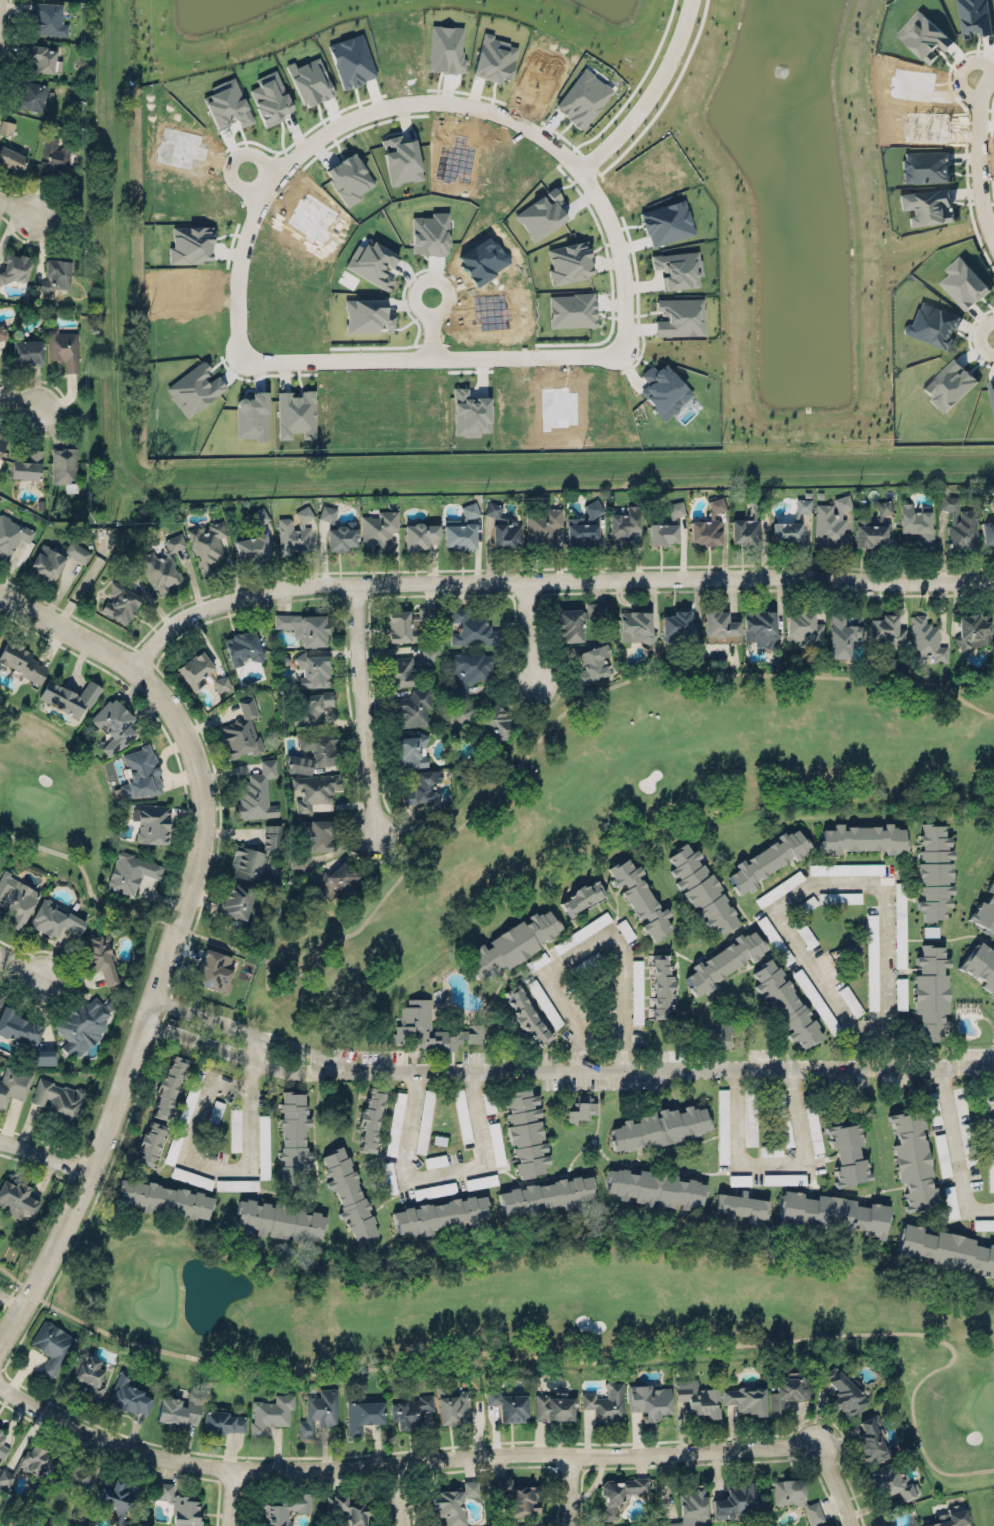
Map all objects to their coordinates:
building: (47, 18)
building: (445, 48)
building: (493, 57)
building: (42, 59)
building: (351, 60)
road: (649, 94)
building: (31, 96)
building: (582, 98)
road: (427, 103)
building: (227, 104)
building: (6, 127)
building: (54, 156)
building: (11, 157)
road: (977, 157)
building: (401, 159)
building: (348, 178)
road: (17, 207)
building: (541, 214)
building: (666, 222)
building: (430, 232)
building: (190, 244)
building: (372, 262)
building: (569, 262)
building: (13, 267)
building: (678, 269)
building: (57, 273)
building: (571, 310)
building: (366, 315)
building: (680, 317)
road: (431, 327)
building: (1, 330)
building: (62, 348)
building: (26, 351)
road: (431, 358)
building: (194, 388)
building: (663, 390)
road: (21, 399)
building: (469, 411)
building: (295, 414)
building: (251, 416)
building: (2, 438)
building: (26, 464)
building: (62, 464)
building: (993, 502)
building: (469, 510)
building: (327, 513)
building: (258, 516)
building: (749, 523)
building: (790, 523)
building: (831, 523)
building: (916, 523)
building: (959, 523)
building: (666, 525)
building: (707, 525)
building: (502, 526)
building: (583, 526)
building: (622, 526)
building: (543, 527)
building: (872, 527)
building: (379, 529)
building: (987, 532)
building: (295, 533)
building: (420, 534)
building: (12, 535)
building: (460, 535)
building: (340, 538)
building: (174, 542)
building: (207, 545)
building: (252, 547)
building: (77, 552)
building: (45, 562)
building: (160, 570)
road: (549, 579)
building: (119, 602)
building: (575, 620)
building: (719, 623)
building: (408, 624)
building: (635, 626)
building: (304, 627)
building: (678, 627)
building: (759, 627)
building: (471, 628)
building: (803, 628)
building: (973, 630)
road: (528, 631)
building: (886, 631)
building: (841, 636)
building: (925, 641)
building: (243, 647)
building: (22, 662)
building: (593, 662)
building: (408, 666)
building: (312, 669)
building: (201, 671)
building: (468, 671)
road: (597, 692)
building: (69, 696)
building: (311, 707)
road: (362, 707)
building: (412, 708)
building: (485, 717)
building: (113, 724)
building: (242, 730)
building: (410, 750)
building: (313, 752)
building: (140, 773)
building: (421, 786)
building: (314, 789)
building: (256, 793)
park: (534, 810)
building: (150, 822)
building: (320, 835)
building: (863, 838)
building: (256, 856)
building: (767, 859)
building: (846, 869)
building: (130, 871)
building: (933, 871)
building: (341, 878)
road: (829, 883)
building: (700, 888)
building: (779, 888)
building: (581, 897)
building: (639, 897)
building: (839, 897)
building: (16, 900)
building: (236, 901)
building: (806, 904)
road: (122, 906)
building: (986, 909)
building: (54, 919)
building: (899, 924)
building: (625, 929)
building: (930, 931)
building: (581, 932)
building: (804, 932)
road: (174, 933)
building: (774, 940)
building: (513, 943)
road: (592, 944)
building: (99, 958)
building: (536, 961)
building: (723, 961)
building: (871, 961)
building: (849, 963)
road: (21, 965)
building: (980, 966)
building: (215, 968)
road: (288, 985)
building: (661, 987)
building: (1, 992)
building: (930, 992)
building: (900, 993)
building: (0, 997)
building: (850, 1000)
building: (816, 1001)
building: (544, 1003)
building: (785, 1003)
building: (526, 1013)
building: (81, 1025)
building: (431, 1027)
road: (253, 1032)
building: (720, 1033)
building: (24, 1035)
road: (247, 1058)
road: (253, 1062)
road: (674, 1068)
building: (13, 1084)
building: (58, 1100)
building: (583, 1108)
building: (933, 1108)
building: (159, 1109)
building: (462, 1115)
building: (183, 1118)
building: (751, 1118)
building: (370, 1119)
building: (783, 1120)
building: (395, 1123)
building: (722, 1126)
building: (659, 1127)
building: (813, 1127)
building: (235, 1129)
building: (525, 1129)
building: (292, 1137)
building: (496, 1143)
building: (263, 1146)
building: (770, 1150)
building: (847, 1151)
road: (955, 1151)
road: (45, 1154)
building: (942, 1154)
building: (990, 1158)
building: (913, 1160)
road: (201, 1161)
road: (771, 1163)
road: (438, 1172)
building: (191, 1177)
building: (389, 1177)
building: (784, 1178)
building: (481, 1181)
building: (236, 1184)
building: (653, 1188)
building: (434, 1190)
building: (348, 1194)
building: (546, 1195)
building: (16, 1198)
building: (164, 1198)
building: (949, 1202)
building: (740, 1206)
building: (834, 1213)
building: (440, 1214)
building: (279, 1220)
building: (983, 1224)
building: (944, 1247)
park: (535, 1312)
building: (51, 1345)
road: (569, 1359)
building: (86, 1369)
building: (788, 1392)
building: (844, 1393)
building: (696, 1397)
building: (129, 1398)
building: (745, 1399)
building: (649, 1401)
building: (605, 1403)
building: (508, 1405)
building: (553, 1408)
building: (454, 1409)
building: (177, 1411)
building: (410, 1411)
building: (318, 1412)
building: (269, 1414)
building: (363, 1414)
building: (222, 1422)
building: (0, 1431)
building: (872, 1441)
building: (3, 1446)
road: (403, 1462)
building: (29, 1465)
building: (70, 1477)
road: (843, 1483)
building: (893, 1486)
road: (574, 1490)
building: (618, 1492)
building: (117, 1493)
road: (404, 1494)
road: (234, 1496)
building: (515, 1497)
building: (795, 1497)
building: (735, 1500)
building: (453, 1502)
building: (693, 1504)
building: (180, 1505)
building: (77, 1509)
building: (285, 1509)
building: (348, 1510)
building: (948, 1517)
building: (45, 1522)
building: (882, 1522)
building: (671, 1523)
building: (529, 1525)

